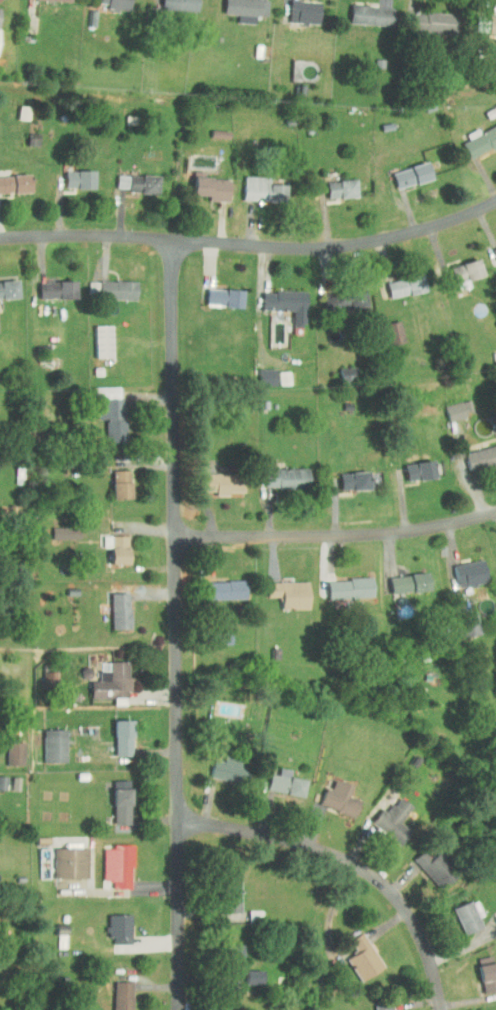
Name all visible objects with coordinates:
building: (110, 2)
building: (171, 2)
building: (237, 6)
building: (295, 8)
building: (363, 9)
building: (426, 16)
building: (488, 18)
building: (211, 128)
building: (476, 135)
building: (403, 169)
building: (70, 173)
building: (10, 177)
building: (129, 177)
building: (203, 181)
building: (333, 183)
building: (254, 184)
road: (250, 245)
building: (491, 246)
building: (457, 267)
building: (397, 280)
building: (4, 283)
building: (48, 283)
building: (110, 284)
building: (216, 291)
building: (337, 293)
building: (278, 297)
building: (385, 326)
building: (95, 335)
building: (338, 368)
building: (258, 371)
building: (275, 372)
building: (450, 404)
building: (102, 405)
building: (476, 452)
building: (411, 464)
building: (278, 472)
building: (346, 474)
building: (214, 477)
building: (112, 478)
road: (337, 538)
building: (108, 542)
building: (461, 567)
building: (401, 577)
building: (342, 582)
building: (216, 584)
building: (281, 588)
building: (111, 605)
building: (457, 620)
road: (176, 624)
building: (213, 633)
building: (41, 671)
building: (103, 677)
building: (115, 732)
building: (46, 740)
building: (7, 748)
building: (221, 764)
building: (7, 778)
building: (278, 778)
building: (331, 793)
building: (113, 796)
building: (385, 815)
building: (62, 857)
building: (422, 858)
building: (110, 860)
road: (351, 865)
building: (223, 885)
building: (459, 911)
building: (111, 922)
building: (354, 952)
building: (480, 968)
building: (245, 971)
building: (114, 992)
building: (376, 1003)
building: (218, 1008)

